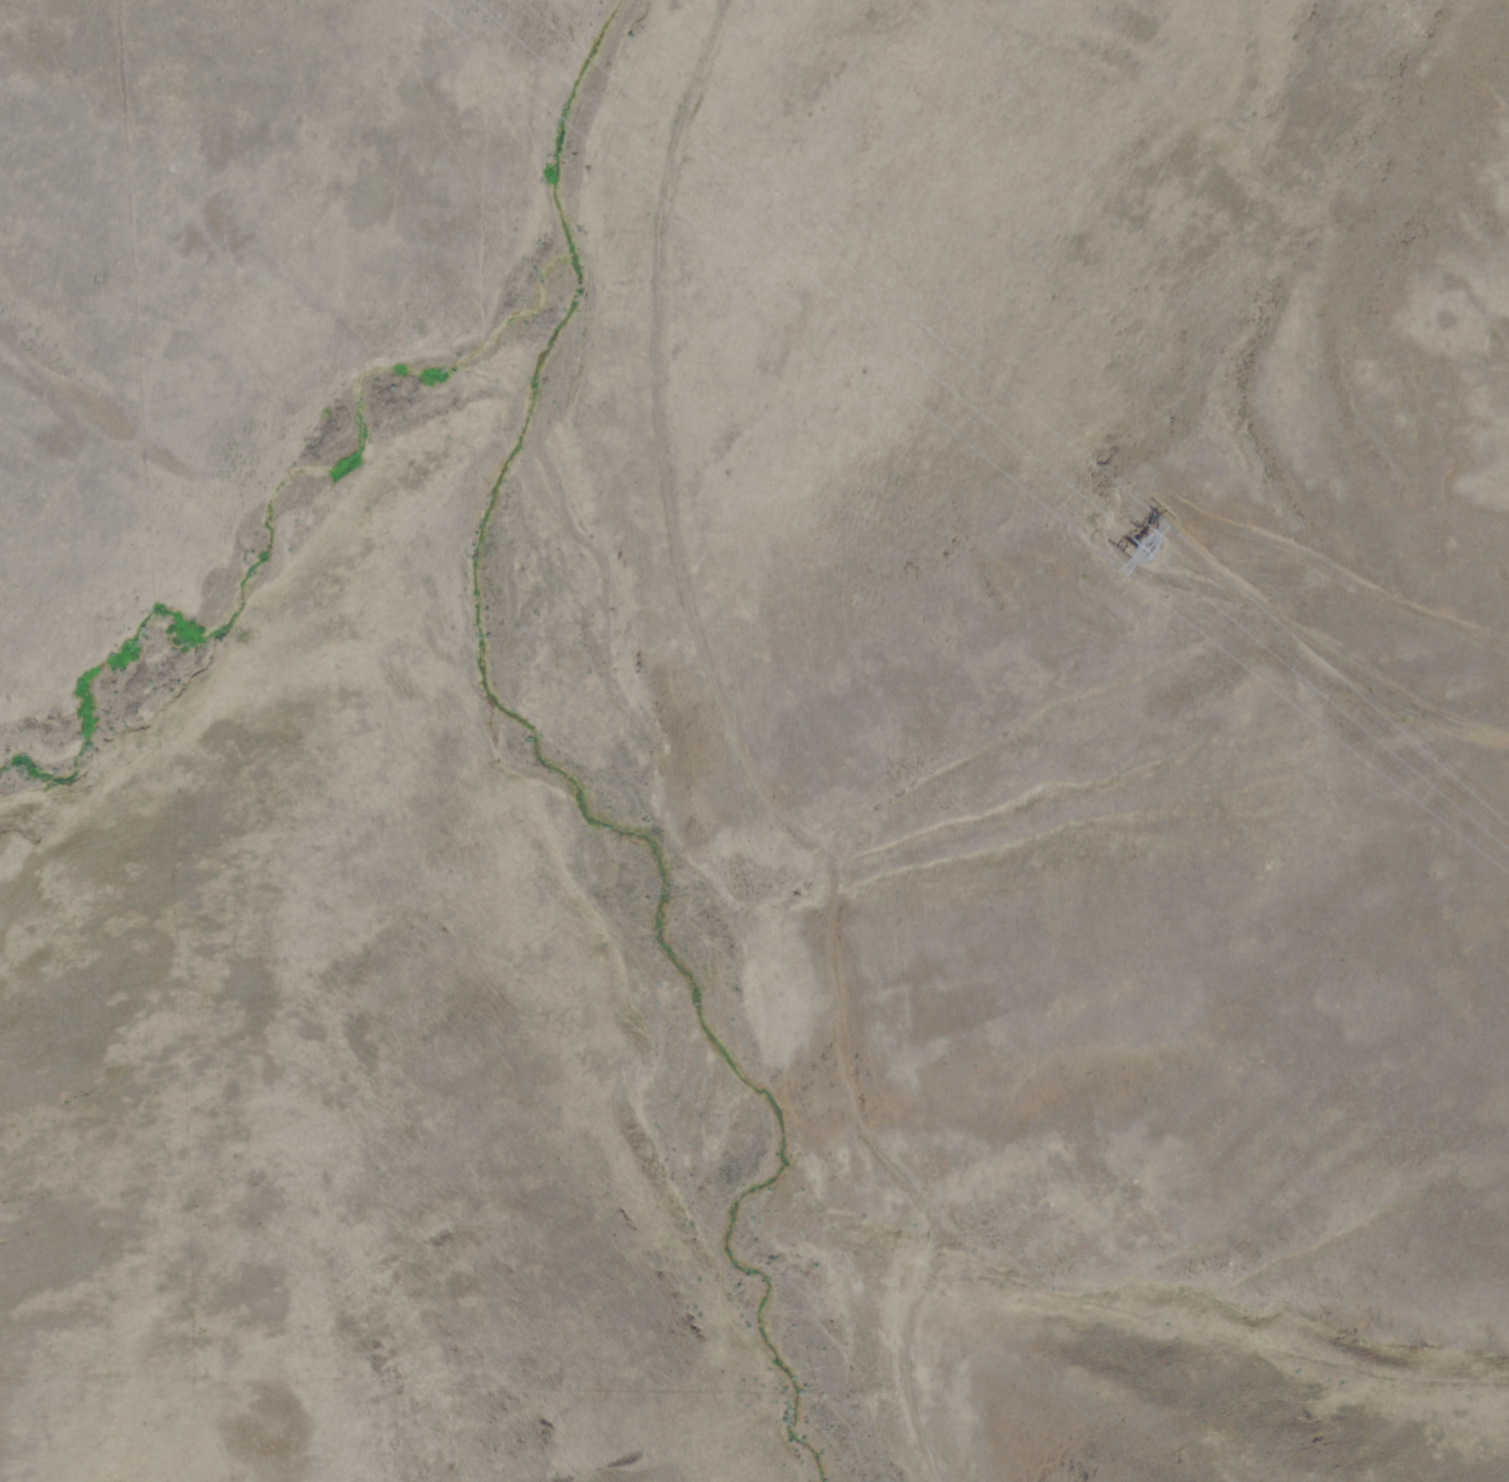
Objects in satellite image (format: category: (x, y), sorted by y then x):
power tower: (1157, 551)

